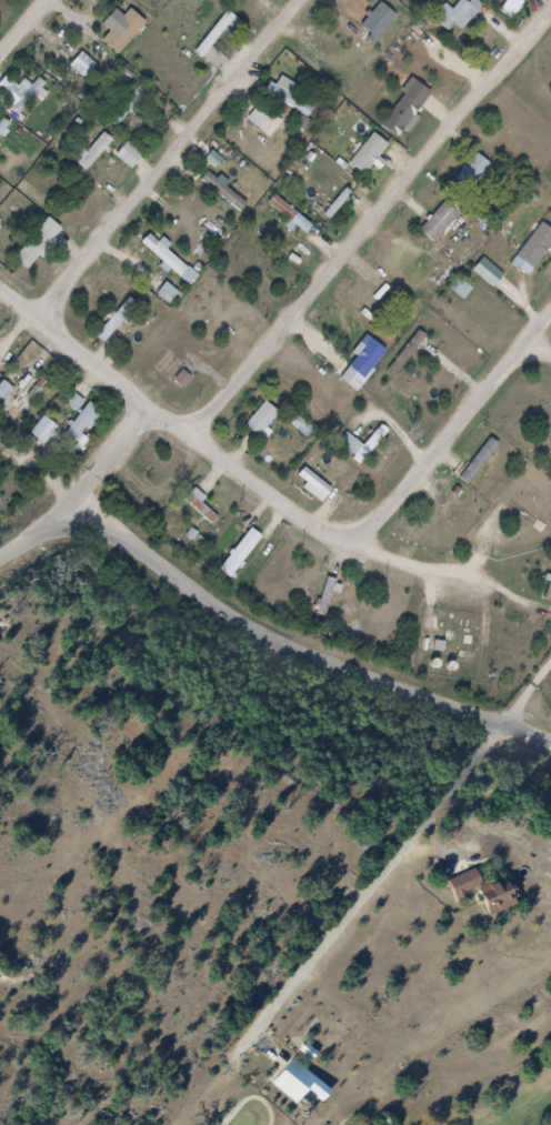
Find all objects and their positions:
building: (460, 14)
building: (116, 23)
road: (23, 28)
building: (210, 42)
building: (22, 93)
building: (290, 97)
building: (130, 104)
building: (266, 123)
building: (97, 151)
building: (370, 154)
road: (174, 157)
building: (475, 168)
building: (226, 192)
building: (339, 203)
building: (291, 215)
road: (373, 221)
building: (441, 222)
building: (41, 243)
building: (167, 257)
building: (535, 257)
building: (462, 289)
building: (118, 320)
road: (547, 331)
building: (414, 354)
building: (370, 370)
building: (4, 390)
building: (33, 400)
building: (14, 401)
building: (76, 402)
road: (177, 419)
building: (307, 423)
building: (270, 424)
building: (86, 429)
road: (455, 430)
building: (37, 431)
building: (370, 445)
road: (117, 453)
building: (487, 461)
building: (323, 483)
building: (208, 508)
building: (449, 513)
building: (250, 553)
road: (429, 565)
building: (328, 596)
building: (333, 600)
building: (352, 605)
road: (256, 623)
road: (531, 697)
building: (487, 890)
road: (375, 891)
building: (471, 893)
building: (505, 910)
park: (414, 976)
building: (307, 1088)
road: (251, 1099)

